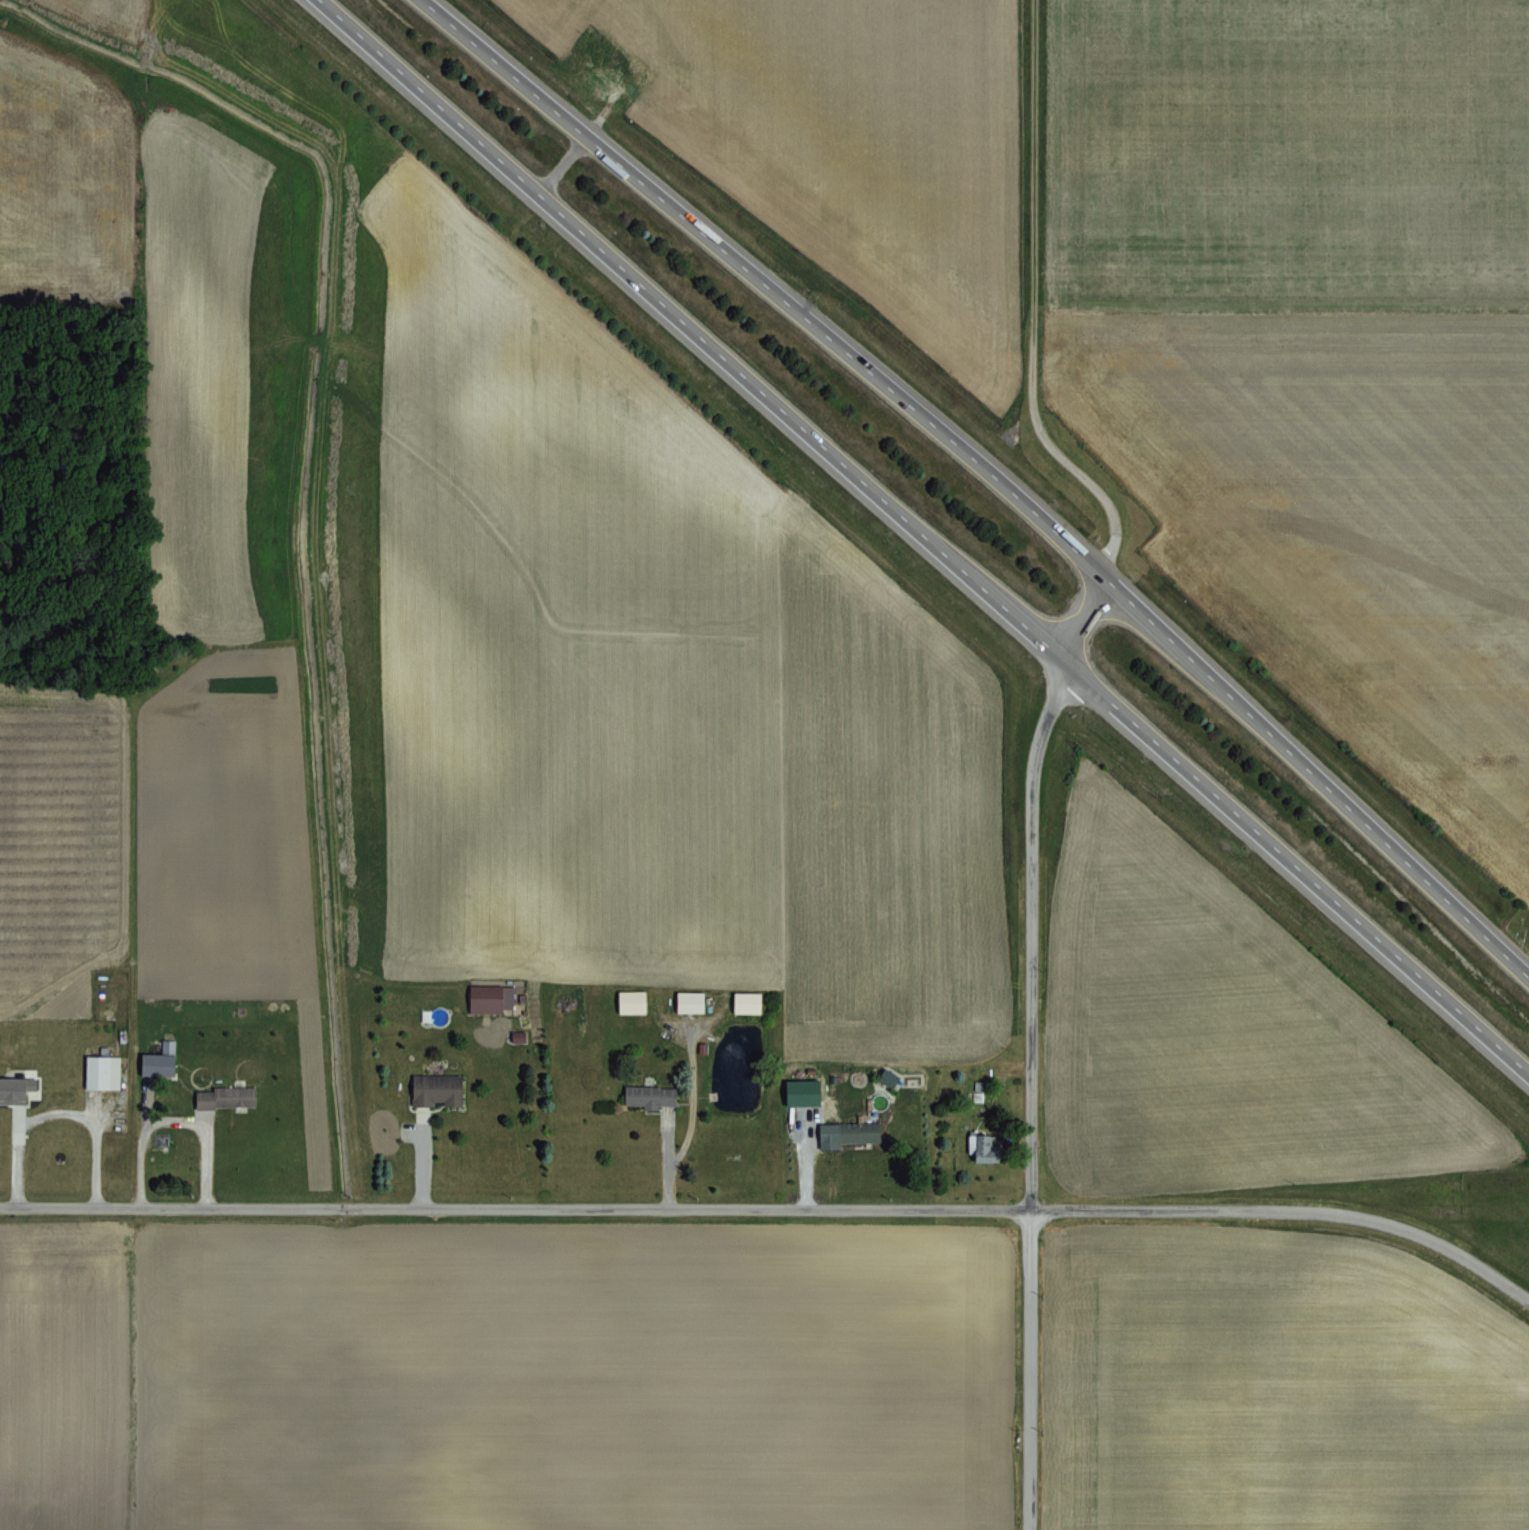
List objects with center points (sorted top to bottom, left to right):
road: (579, 137)
road: (992, 470)
road: (921, 539)
road: (1036, 745)
park: (1519, 925)
building: (489, 996)
building: (631, 999)
building: (689, 1000)
building: (747, 1001)
building: (159, 1059)
building: (102, 1070)
building: (887, 1075)
building: (437, 1087)
building: (17, 1088)
building: (803, 1090)
building: (650, 1094)
building: (225, 1095)
road: (55, 1110)
road: (172, 1118)
building: (847, 1131)
building: (981, 1143)
road: (775, 1206)

